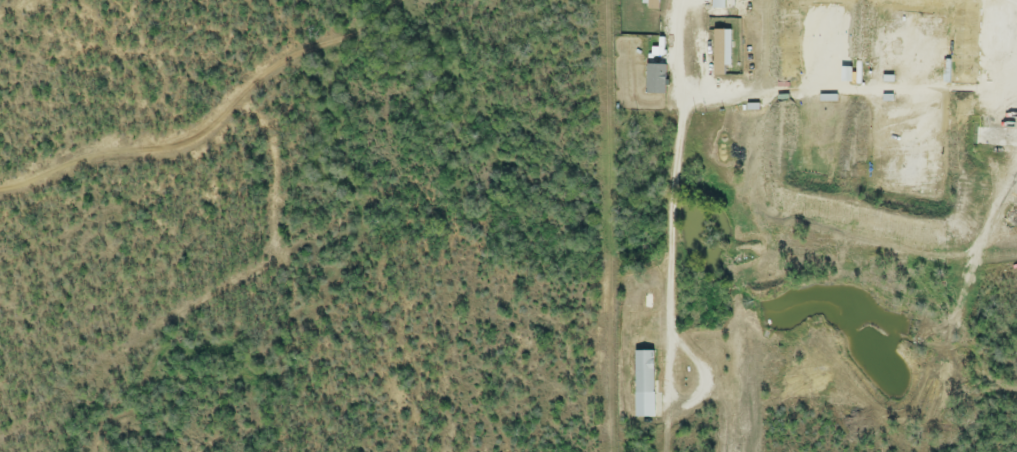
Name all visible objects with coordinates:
road: (1010, 3)
road: (858, 90)
road: (213, 121)
road: (675, 204)
road: (605, 226)

